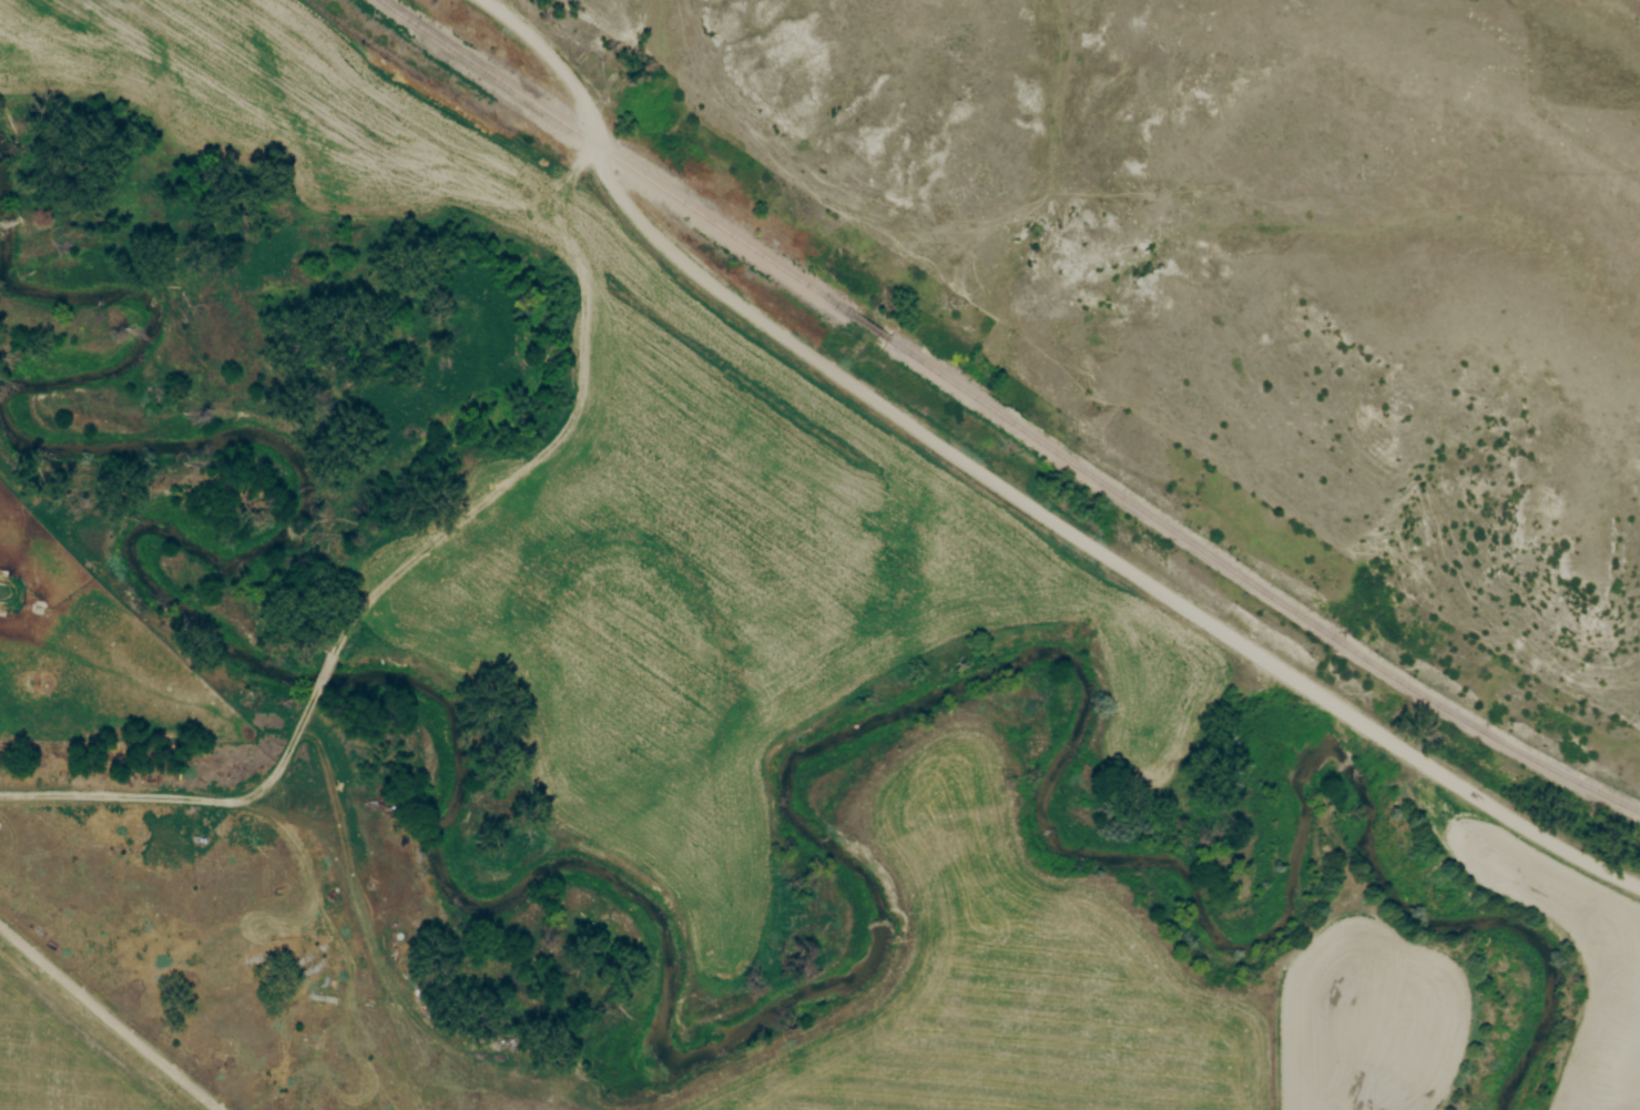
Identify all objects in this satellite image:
railway: (613, 159)
railway: (869, 328)
road: (1015, 492)
railway: (1256, 585)
road: (111, 1017)

